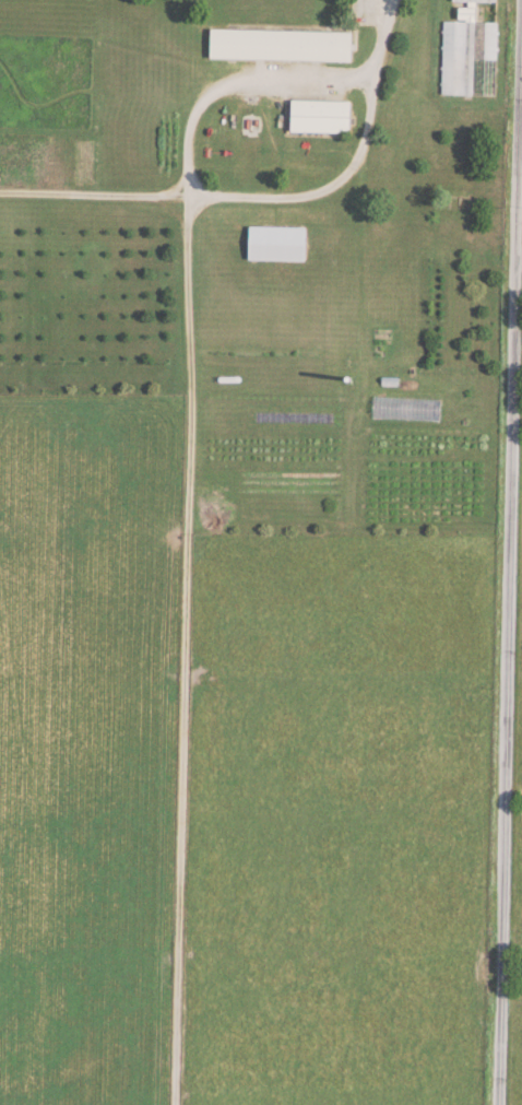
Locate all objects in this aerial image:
building: (477, 0)
building: (284, 44)
building: (325, 115)
road: (269, 197)
building: (282, 243)
road: (510, 562)

